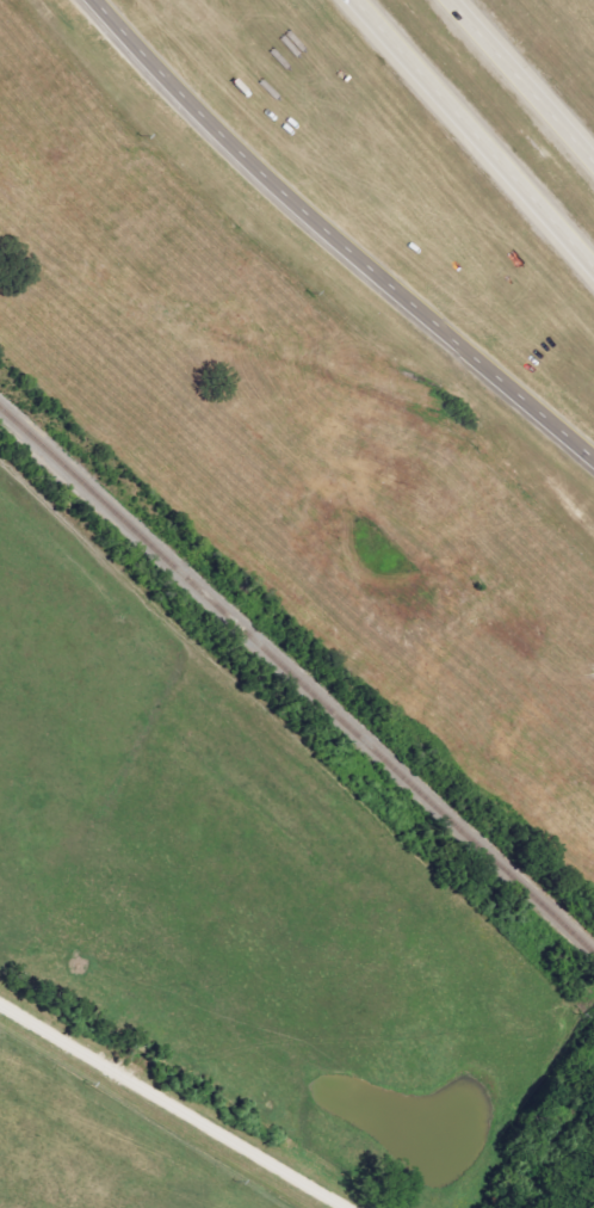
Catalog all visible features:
road: (519, 82)
road: (471, 137)
road: (336, 238)
railway: (298, 680)
road: (171, 1107)

